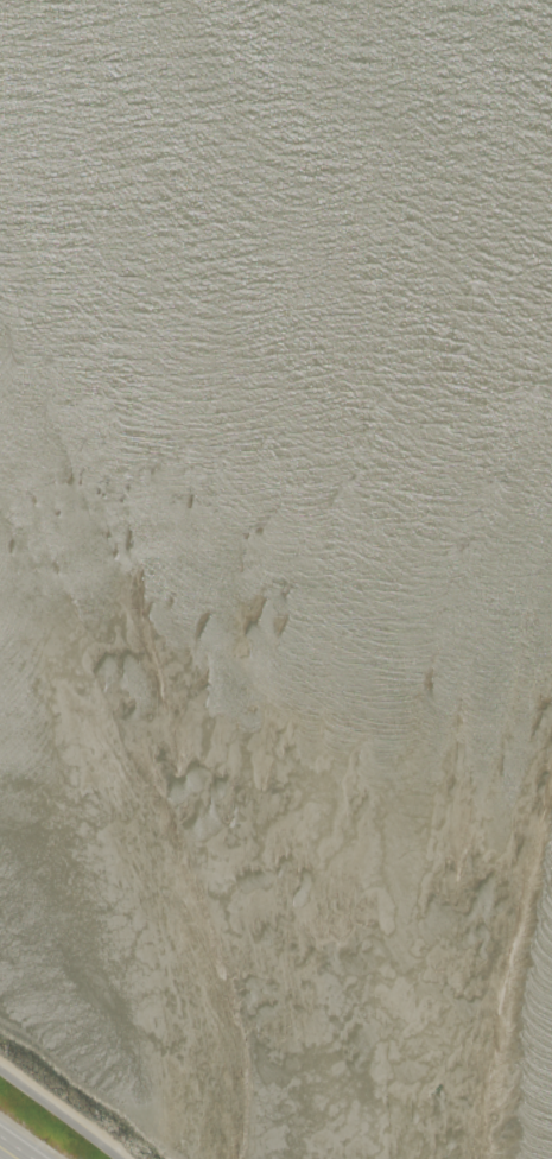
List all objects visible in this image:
road: (31, 1136)
road: (8, 1152)

